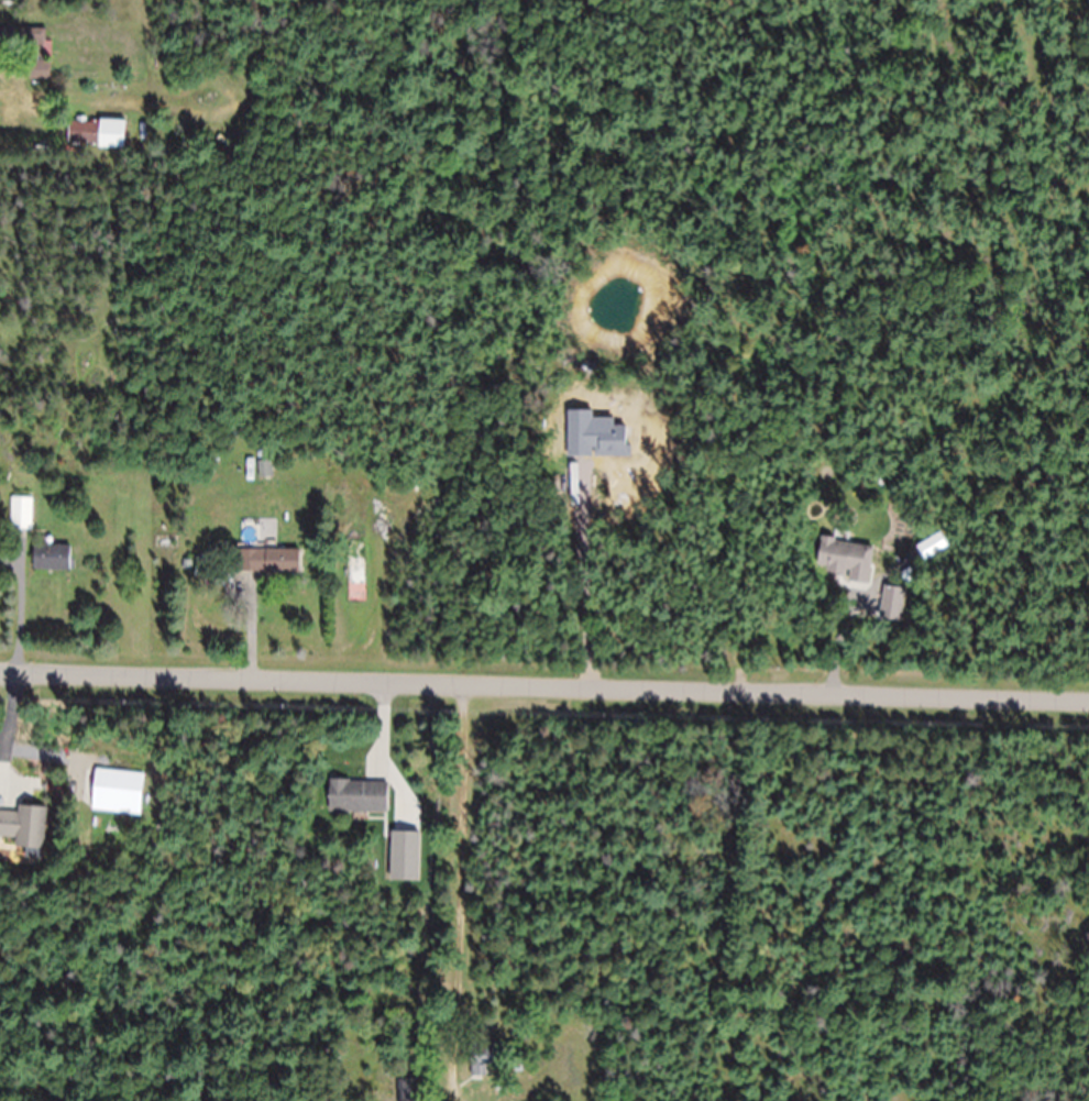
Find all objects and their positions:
building: (23, 53)
building: (96, 135)
building: (264, 470)
building: (21, 514)
building: (50, 558)
building: (843, 560)
building: (267, 561)
road: (544, 683)
building: (356, 796)
building: (24, 827)
building: (477, 1060)
building: (406, 1090)

